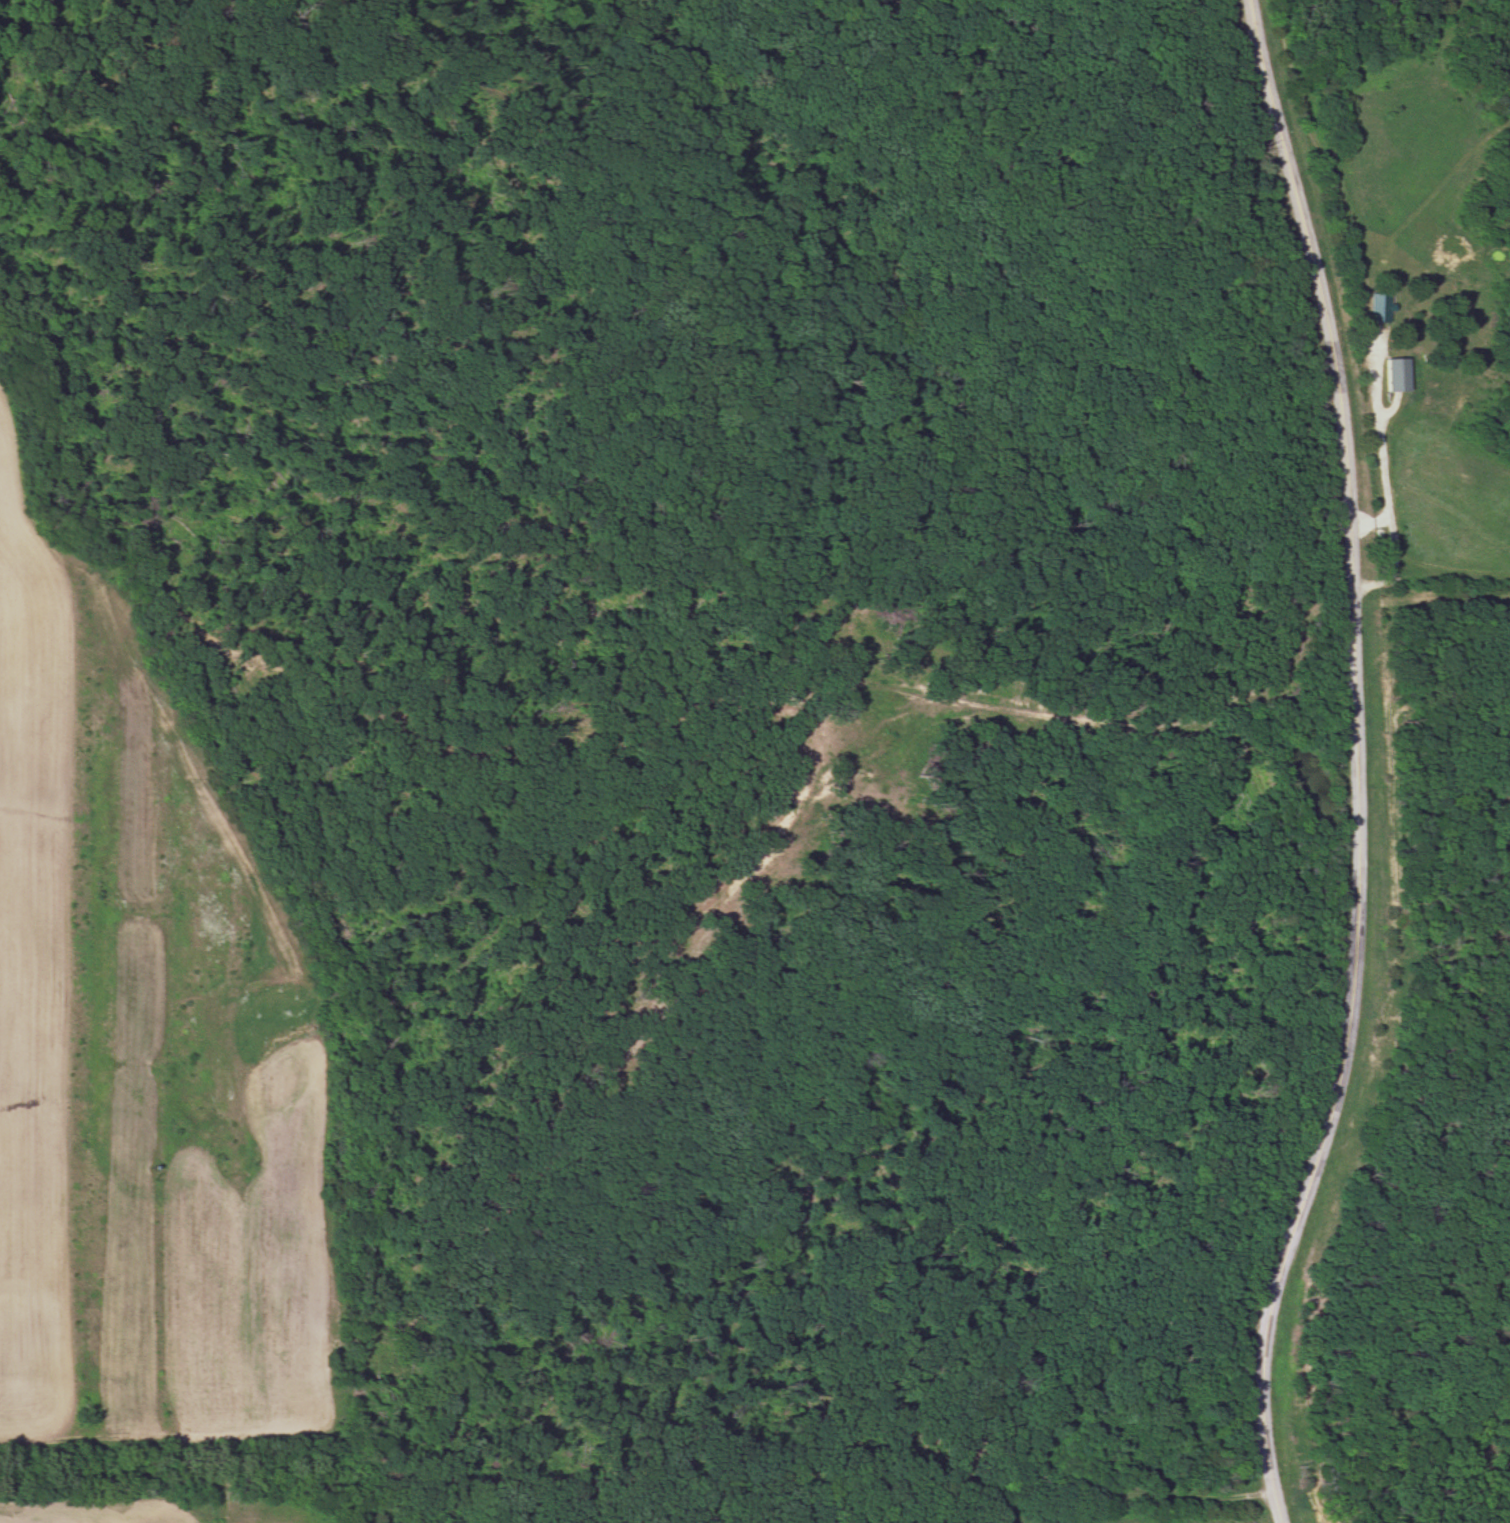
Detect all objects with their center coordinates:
building: (1393, 374)
road: (1358, 762)

